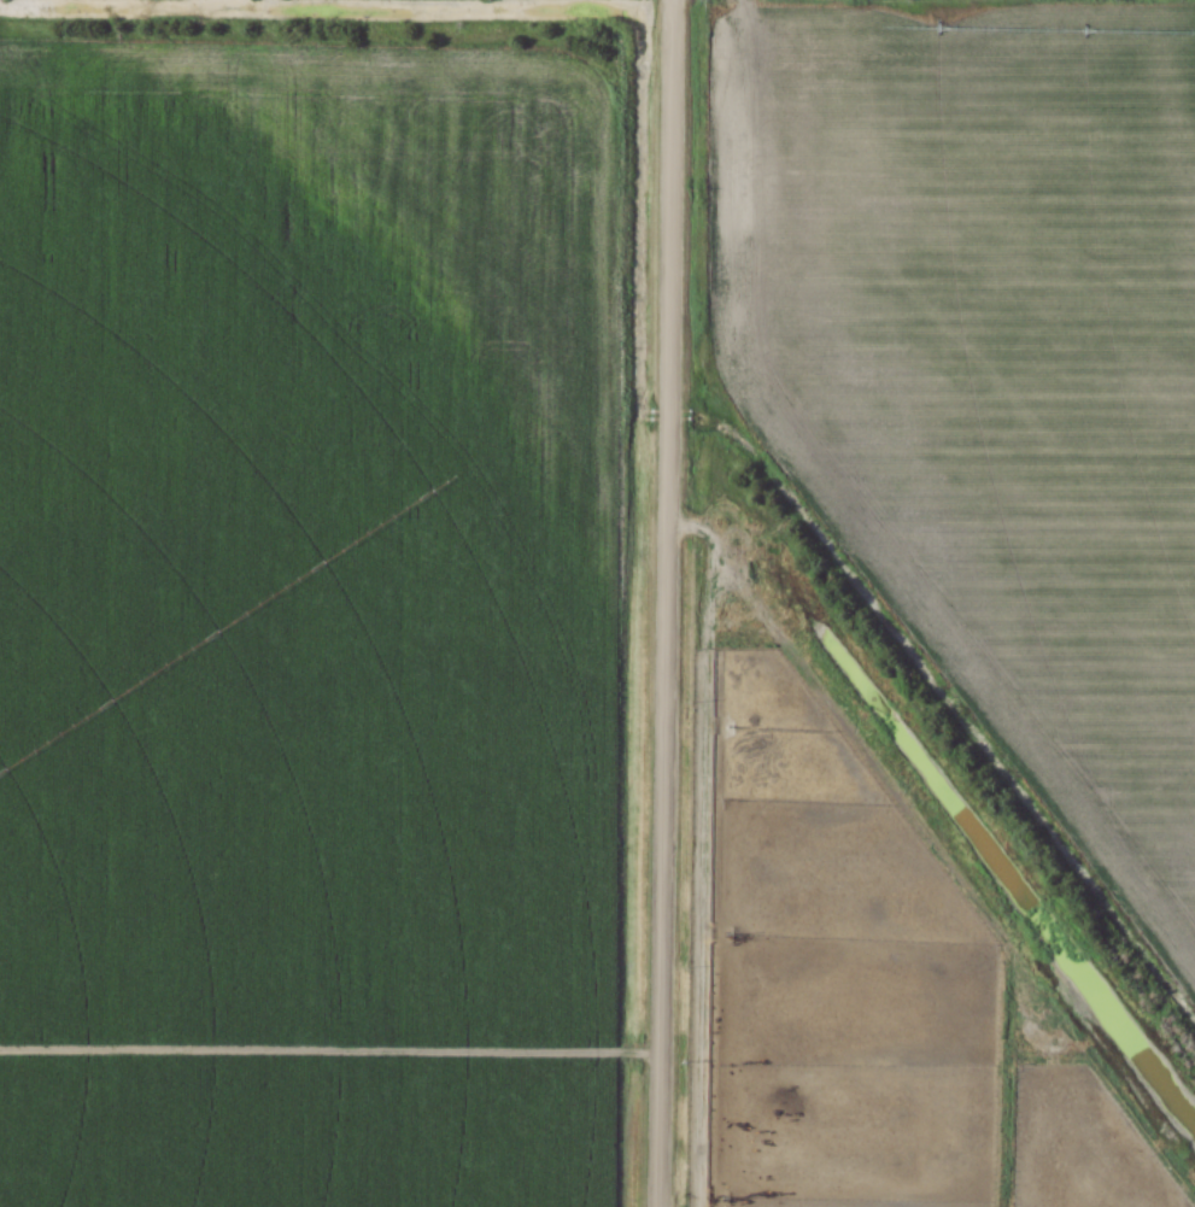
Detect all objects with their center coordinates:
road: (656, 603)

